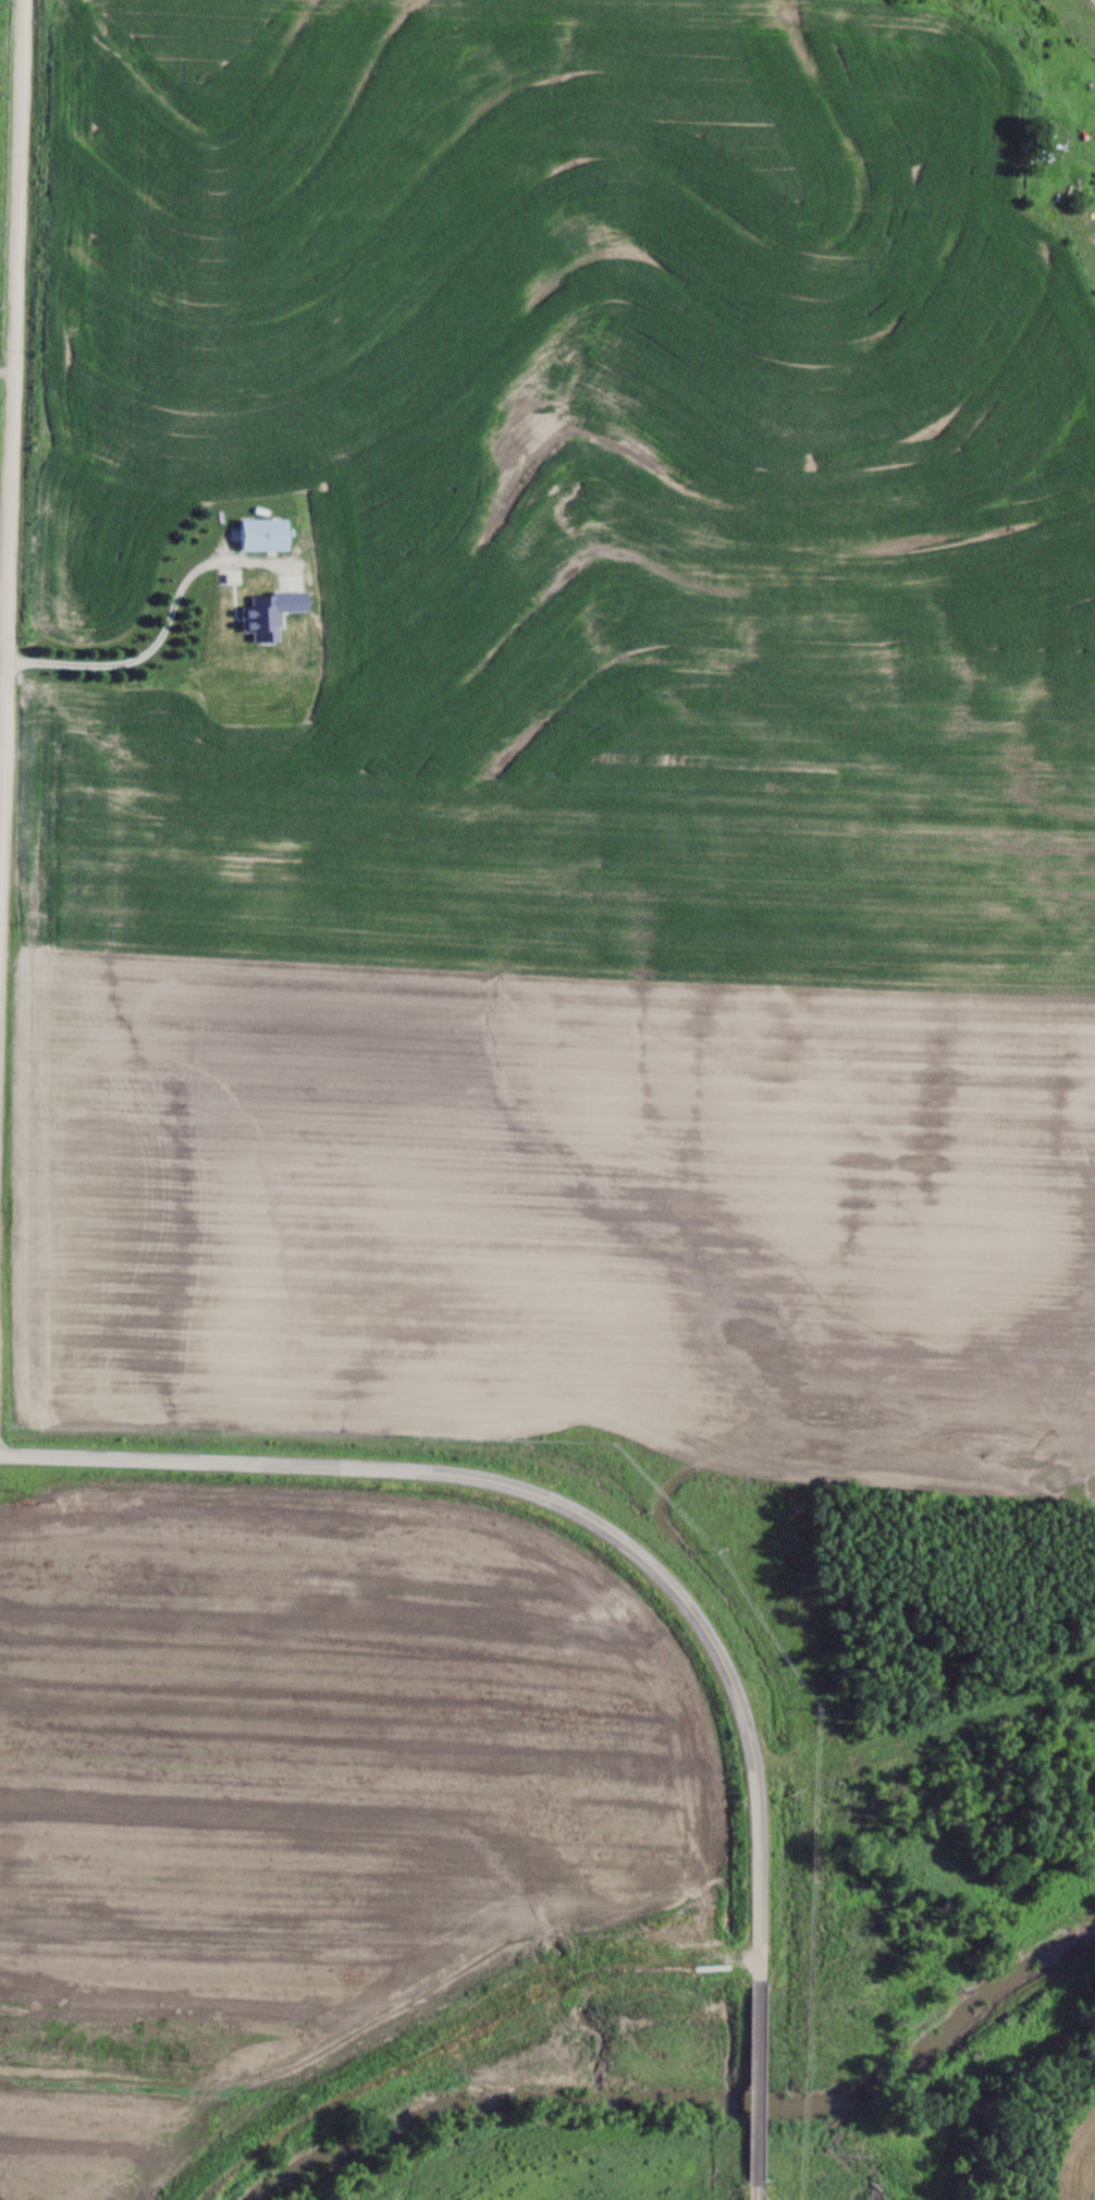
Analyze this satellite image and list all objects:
road: (11, 375)
building: (260, 536)
road: (645, 1562)

